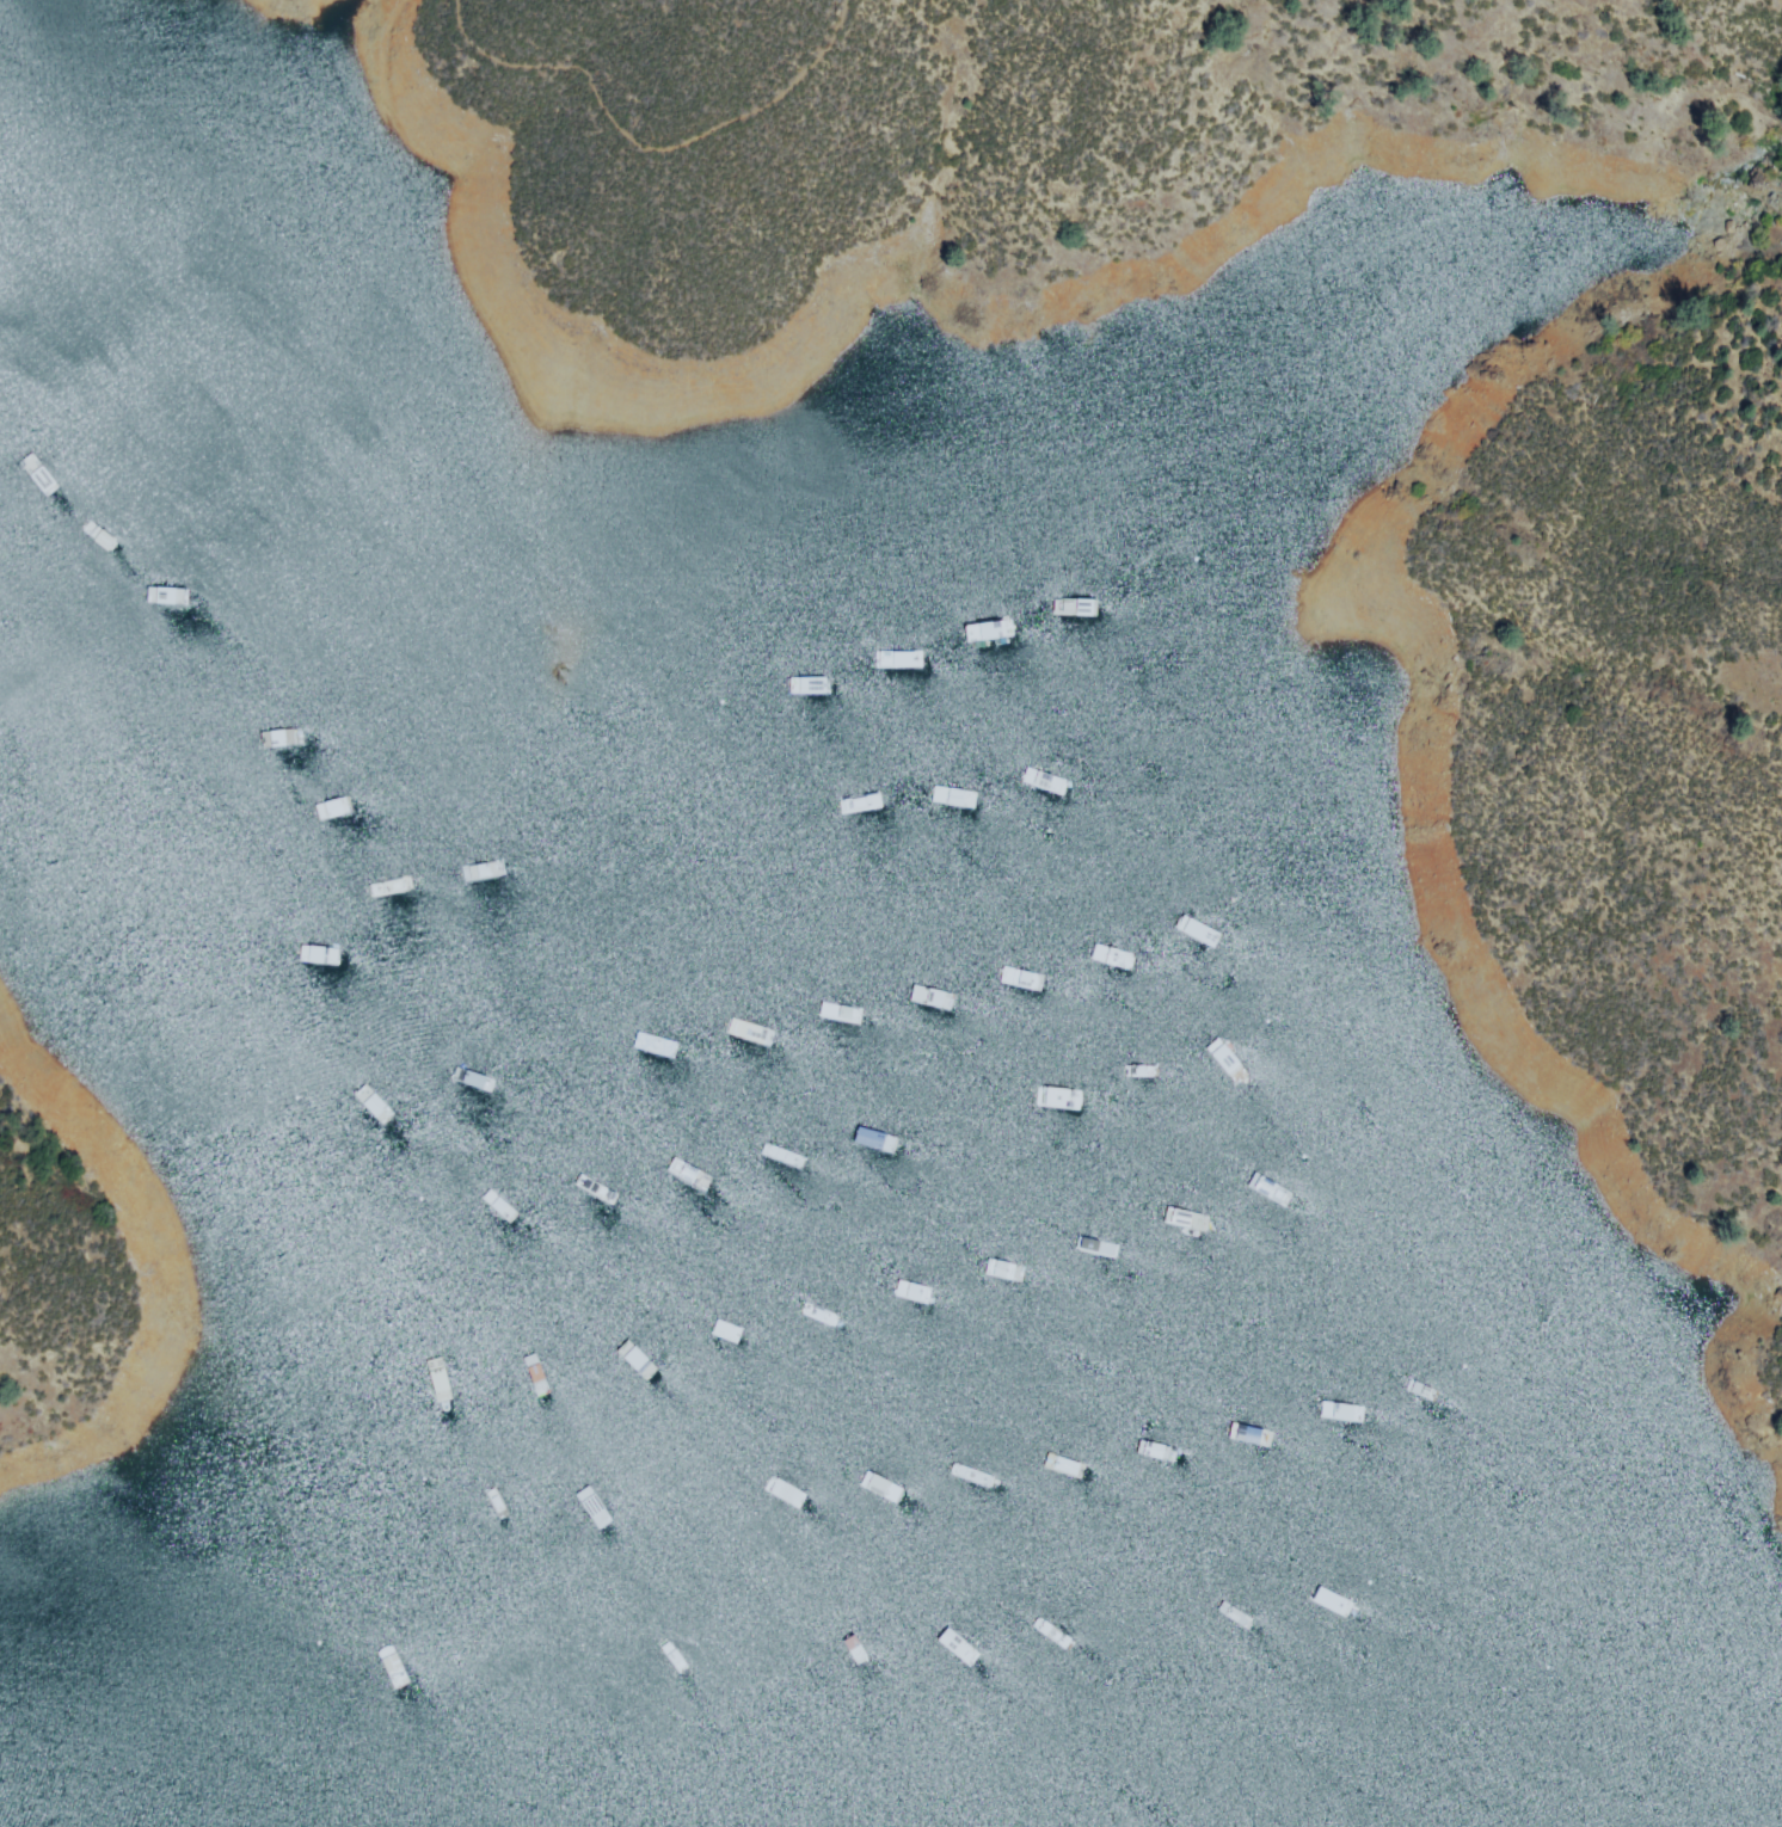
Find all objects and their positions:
road: (795, 78)
building: (197, 663)
building: (239, 844)
building: (1170, 1003)
building: (657, 1384)
building: (598, 1549)

